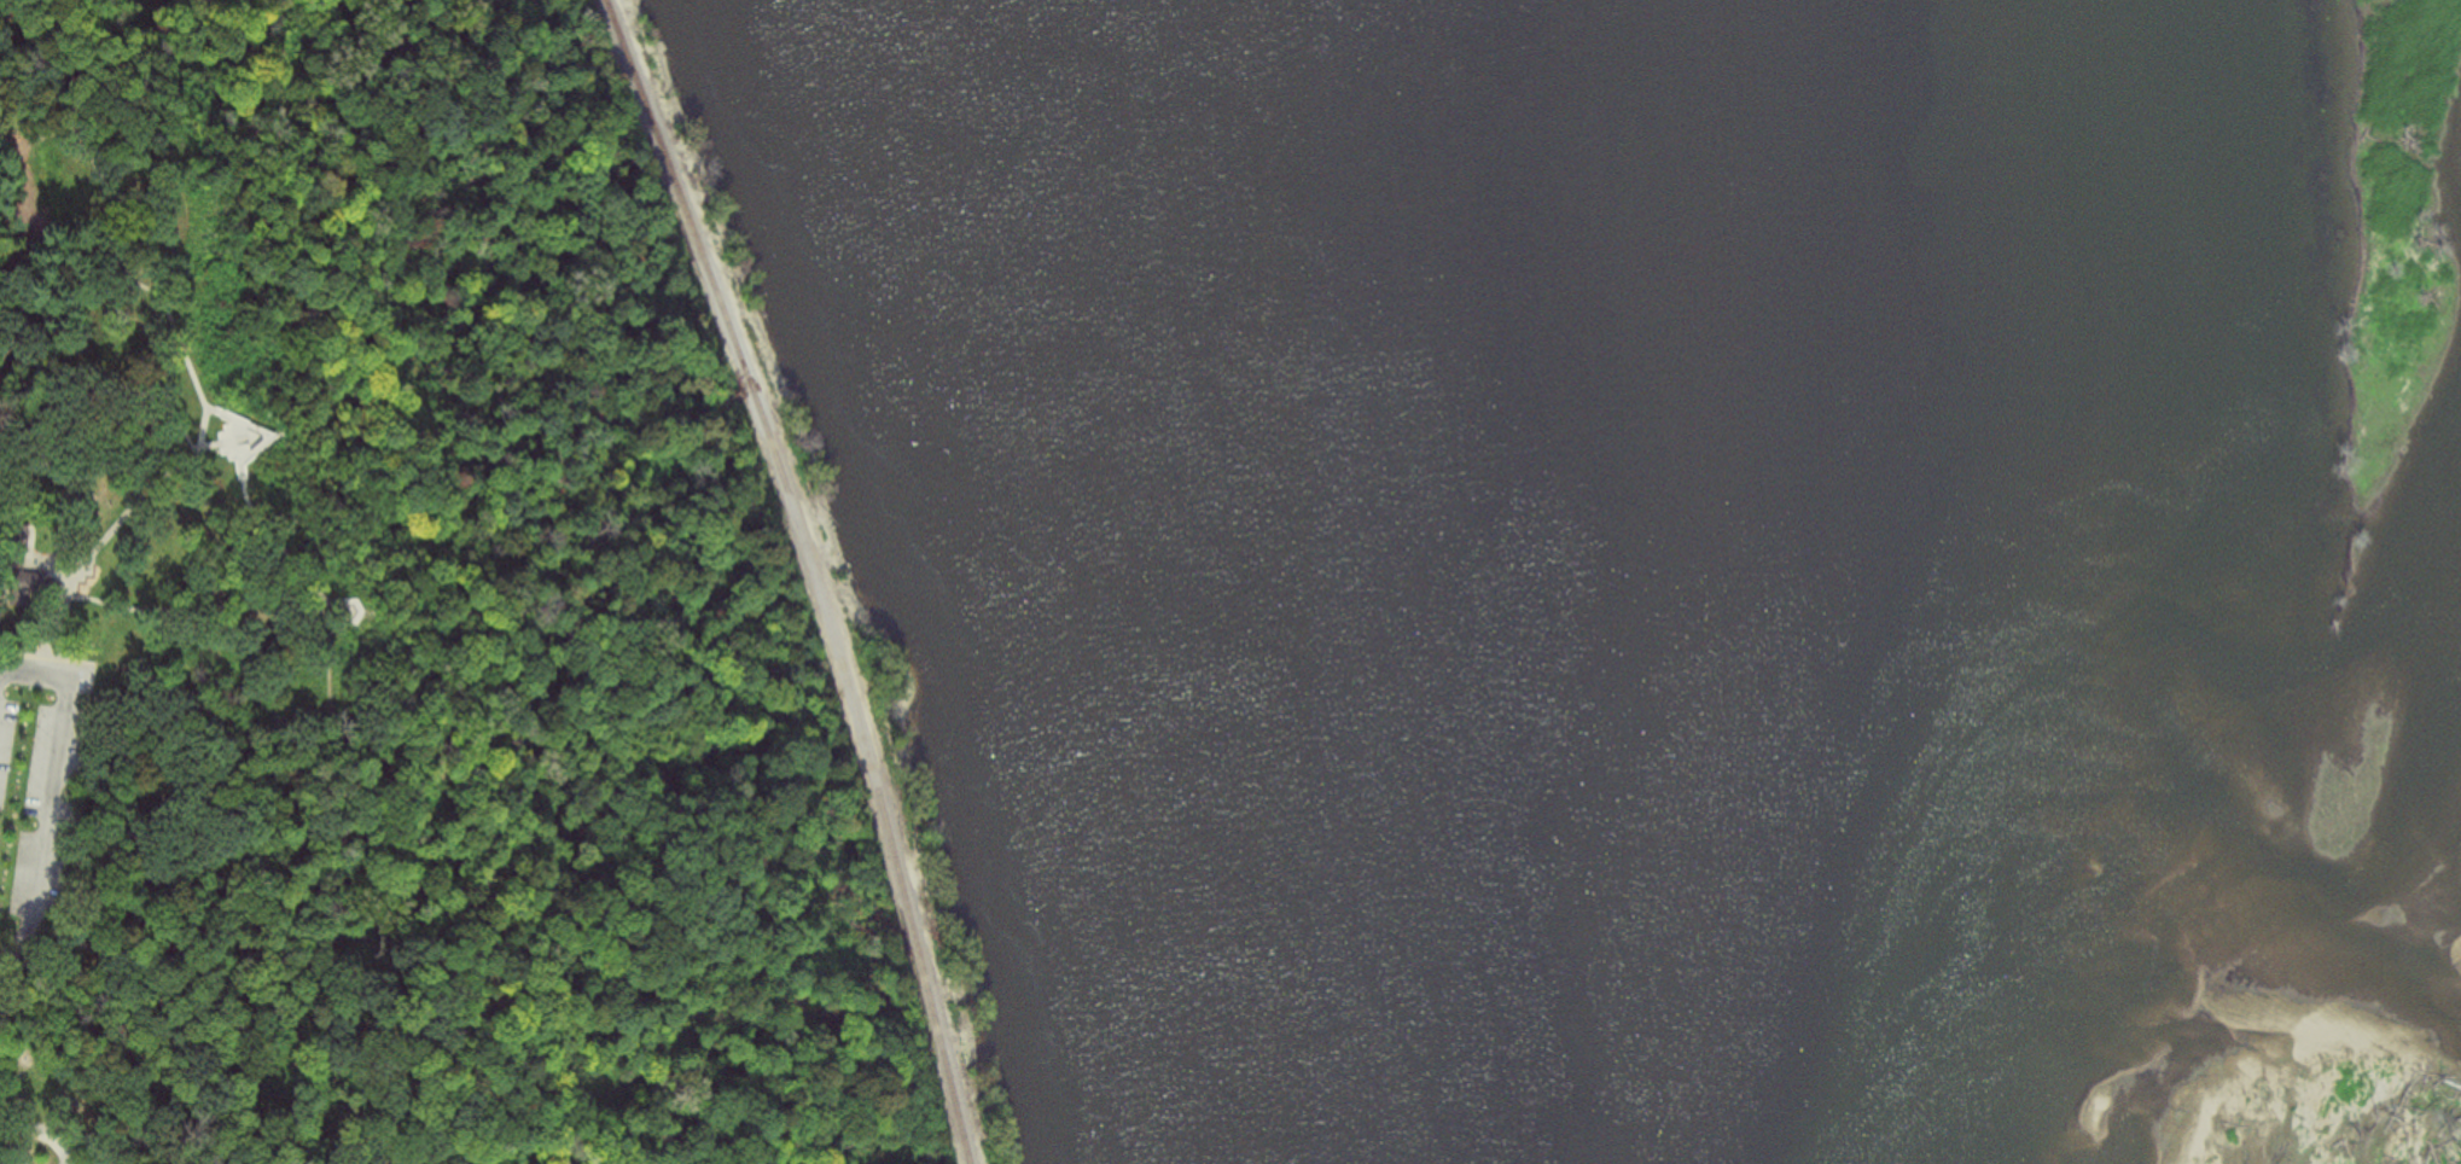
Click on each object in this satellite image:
road: (176, 339)
railway: (815, 572)
building: (28, 584)
river: (1278, 584)
road: (12, 654)
road: (50, 801)
road: (27, 1145)

